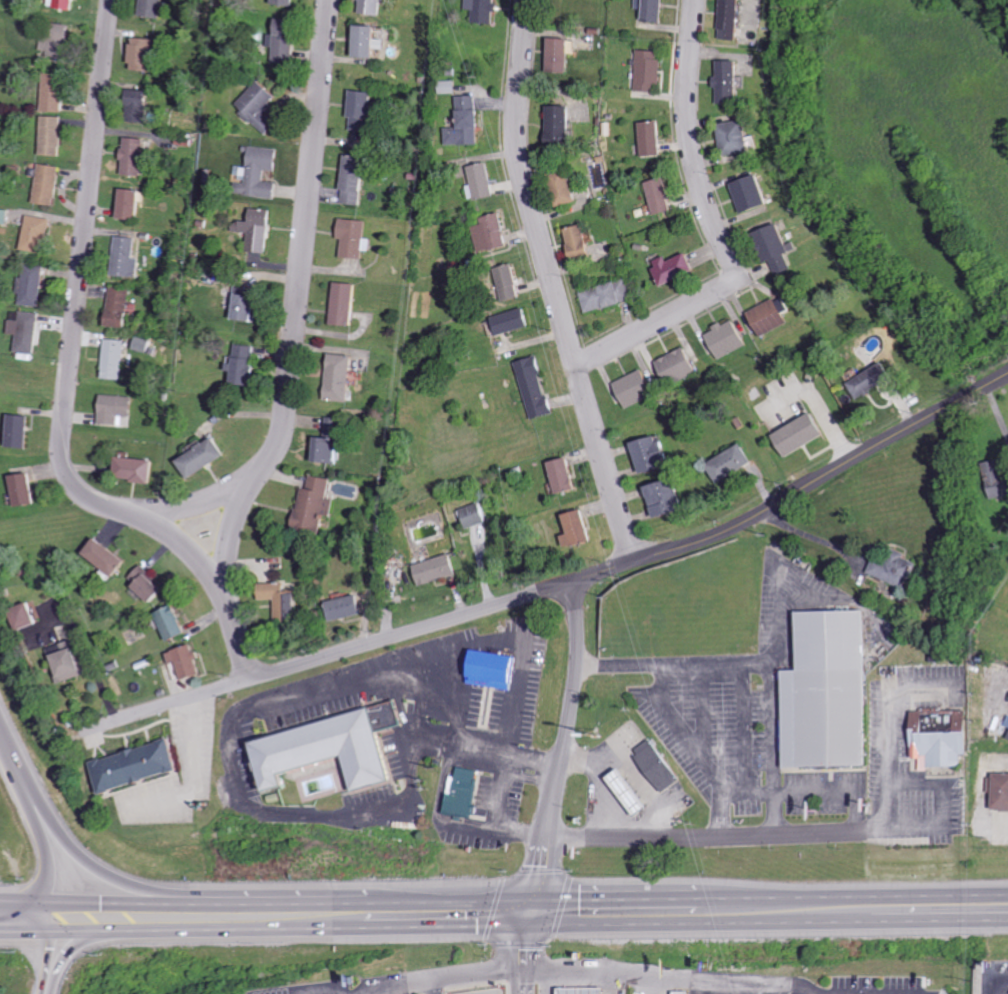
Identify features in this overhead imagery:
building: (287, 2)
building: (68, 4)
building: (375, 7)
building: (154, 8)
building: (654, 9)
building: (484, 10)
building: (735, 19)
building: (59, 37)
building: (371, 41)
building: (286, 42)
building: (146, 53)
building: (561, 55)
building: (650, 69)
building: (731, 81)
building: (56, 92)
building: (141, 105)
building: (261, 106)
building: (364, 110)
building: (468, 122)
building: (562, 128)
building: (54, 135)
building: (738, 136)
building: (654, 138)
building: (136, 156)
building: (263, 172)
building: (356, 180)
building: (484, 180)
building: (49, 184)
building: (567, 187)
building: (755, 194)
building: (662, 196)
building: (132, 204)
building: (5, 216)
road: (716, 228)
building: (259, 230)
building: (38, 233)
building: (494, 233)
building: (356, 237)
building: (582, 241)
building: (780, 249)
building: (127, 257)
building: (678, 268)
building: (513, 282)
road: (550, 284)
building: (33, 285)
building: (609, 295)
building: (347, 303)
building: (250, 304)
road: (296, 306)
building: (120, 307)
building: (771, 317)
building: (516, 321)
building: (28, 331)
building: (729, 338)
building: (115, 359)
building: (246, 364)
building: (679, 365)
building: (342, 377)
building: (875, 379)
road: (67, 382)
building: (537, 387)
building: (638, 388)
road: (821, 402)
building: (117, 408)
building: (336, 427)
building: (21, 430)
building: (803, 434)
building: (331, 450)
building: (654, 454)
building: (204, 457)
building: (732, 463)
building: (137, 469)
building: (567, 475)
building: (1000, 483)
building: (26, 489)
building: (667, 498)
building: (317, 503)
building: (478, 515)
road: (231, 527)
building: (581, 529)
road: (814, 538)
building: (108, 557)
building: (439, 569)
building: (898, 570)
building: (150, 584)
road: (559, 585)
building: (285, 601)
building: (349, 607)
building: (27, 617)
building: (175, 623)
road: (514, 641)
road: (90, 657)
building: (70, 660)
building: (190, 661)
building: (498, 669)
road: (742, 676)
building: (819, 694)
road: (258, 710)
road: (679, 729)
road: (888, 732)
building: (930, 734)
road: (562, 749)
building: (332, 750)
building: (660, 765)
building: (141, 766)
road: (197, 776)
road: (760, 789)
building: (1001, 790)
road: (816, 791)
building: (466, 793)
building: (633, 793)
road: (983, 795)
road: (941, 807)
road: (33, 828)
road: (706, 834)
road: (104, 872)
road: (643, 912)
road: (139, 916)
traffic signals: (142, 916)
traffic signals: (25, 917)
traffic signals: (32, 917)
road: (84, 941)
road: (521, 953)
road: (46, 954)
road: (668, 975)
road: (419, 980)
road: (544, 981)
road: (612, 982)
road: (433, 986)
road: (704, 986)
road: (752, 988)
road: (387, 989)
building: (588, 991)
gas station: (578, 992)
building: (684, 993)

